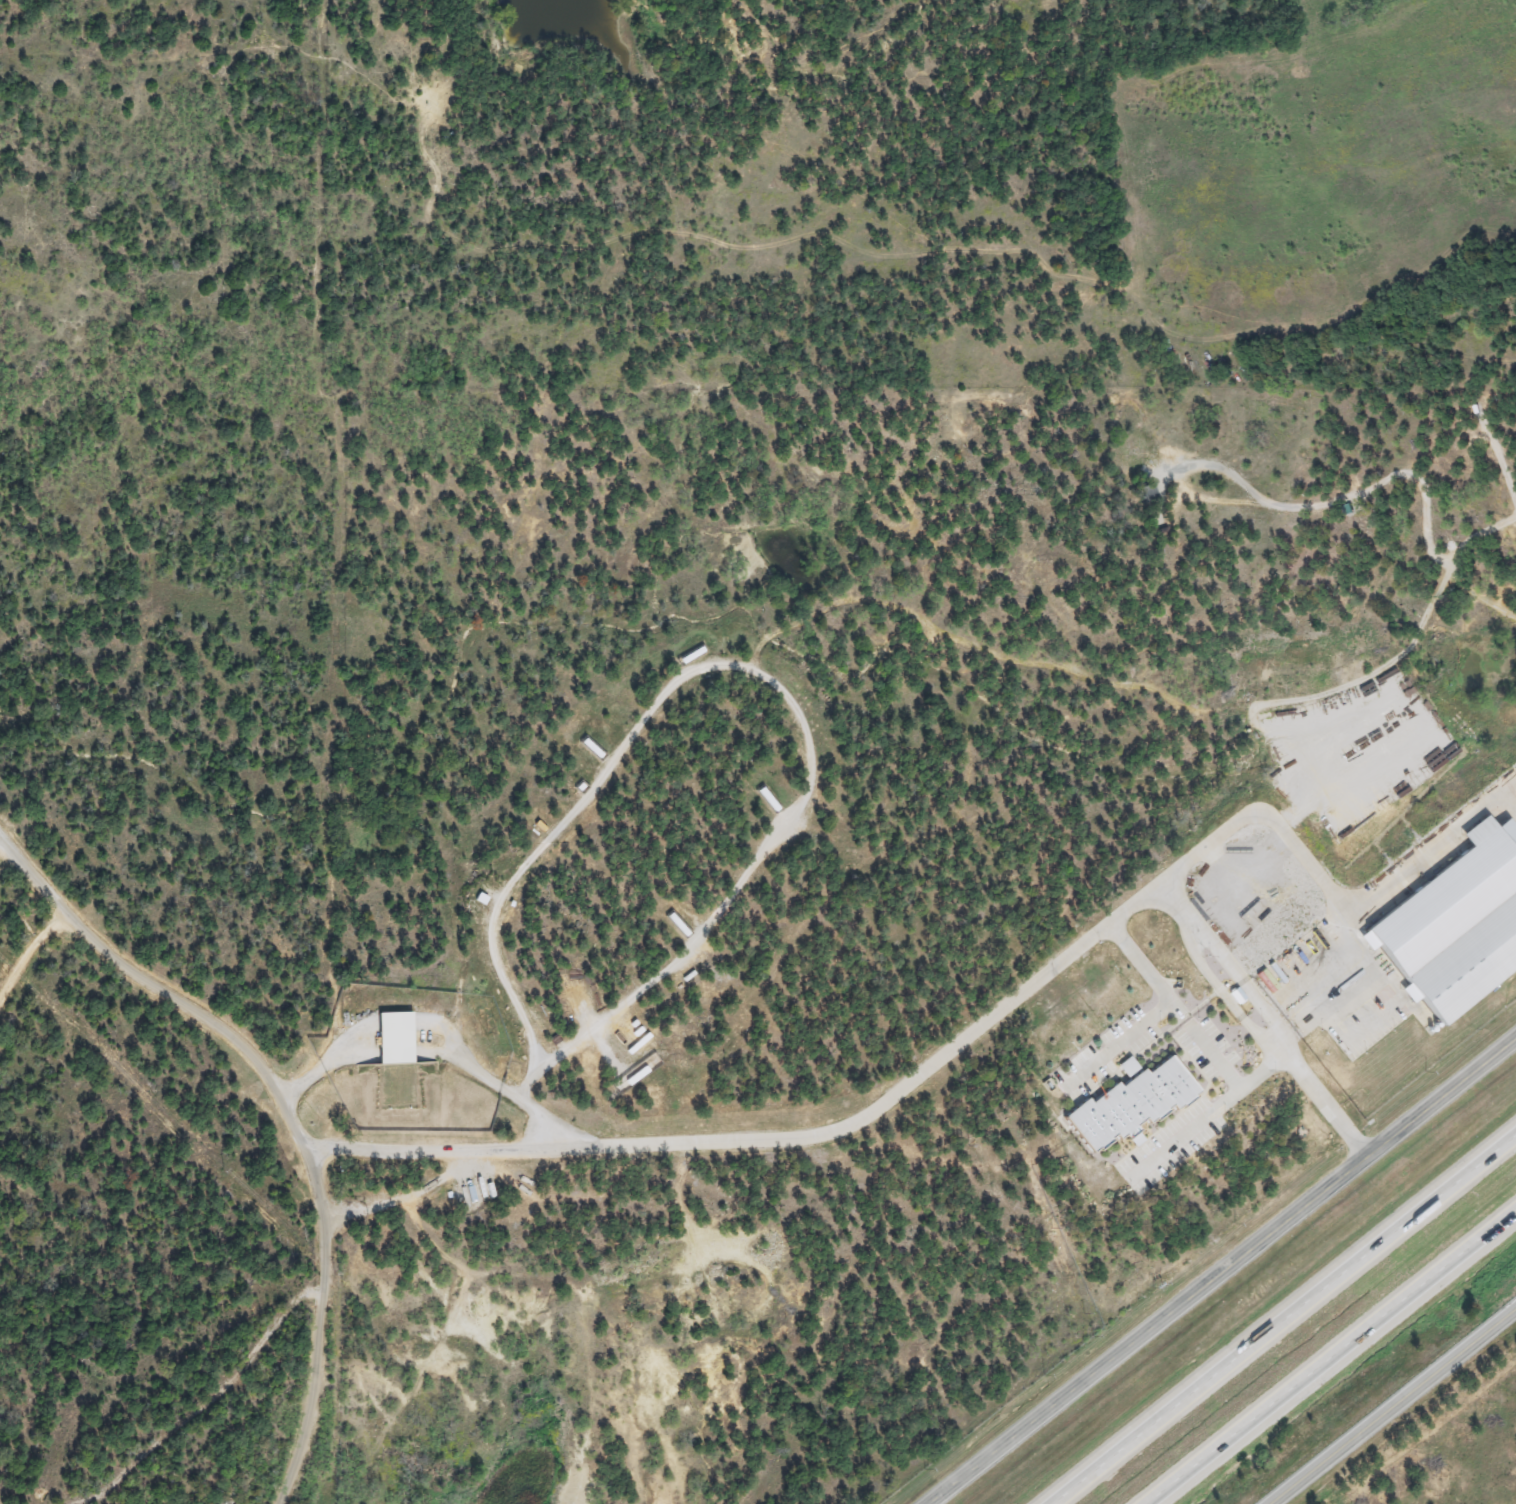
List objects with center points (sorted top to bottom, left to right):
road: (737, 667)
road: (1508, 792)
road: (1267, 821)
road: (1172, 911)
building: (1453, 914)
building: (673, 921)
road: (1279, 926)
road: (1189, 933)
road: (397, 1023)
road: (1116, 1041)
road: (1200, 1044)
road: (327, 1059)
road: (1260, 1064)
building: (637, 1075)
road: (487, 1079)
road: (522, 1147)
road: (1217, 1266)
road: (1284, 1318)
road: (313, 1319)
road: (1331, 1356)
road: (1390, 1404)

